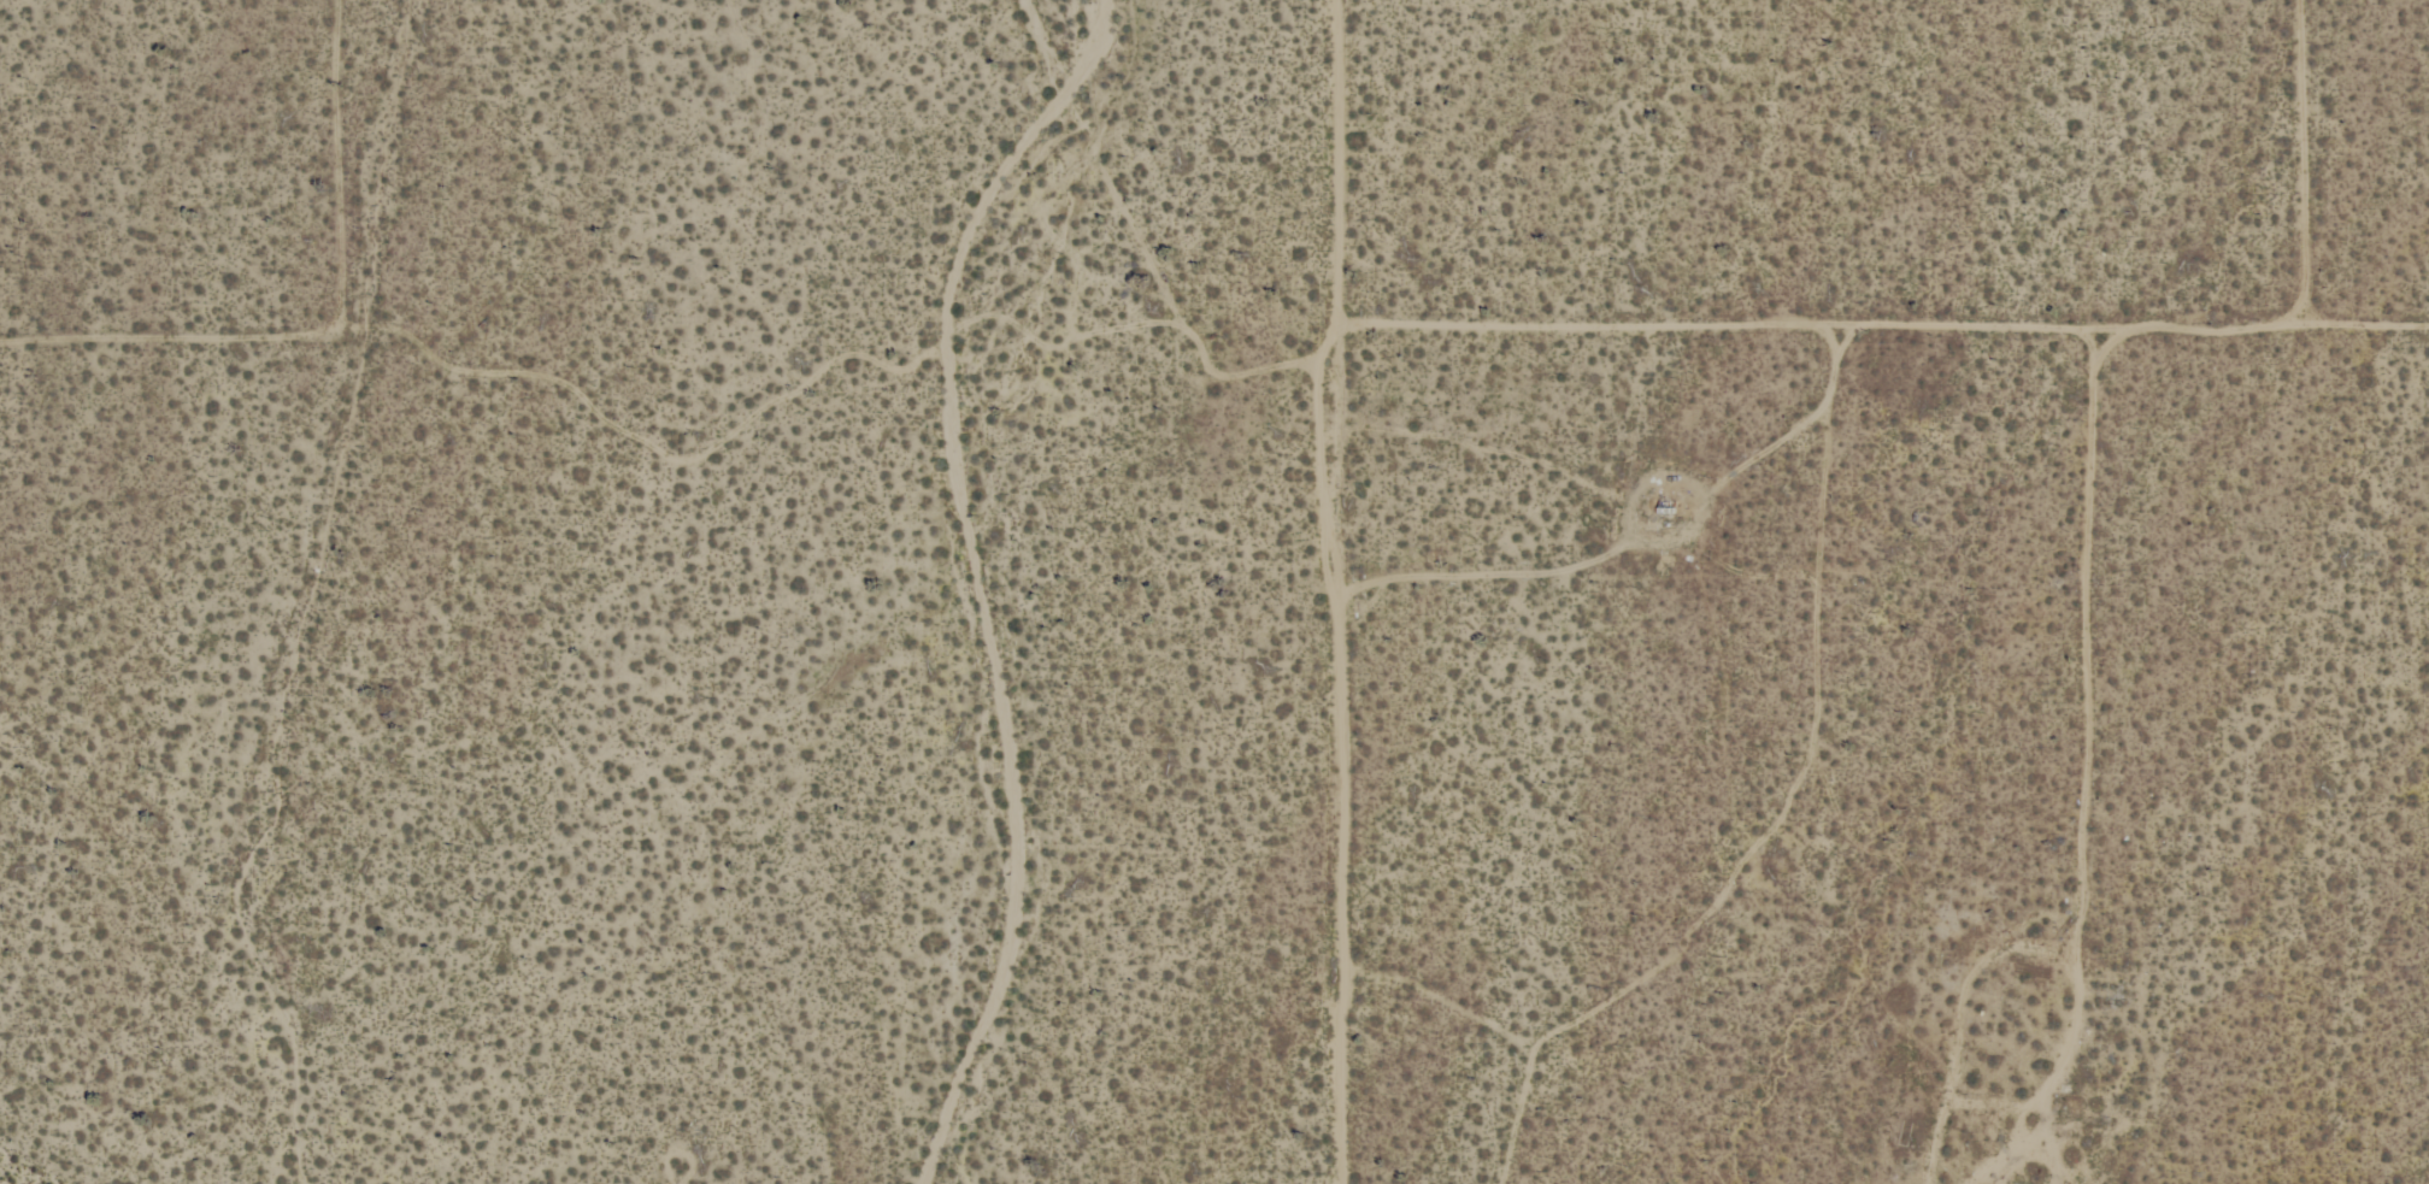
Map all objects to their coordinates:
road: (2306, 161)
road: (1886, 324)
road: (1345, 591)

